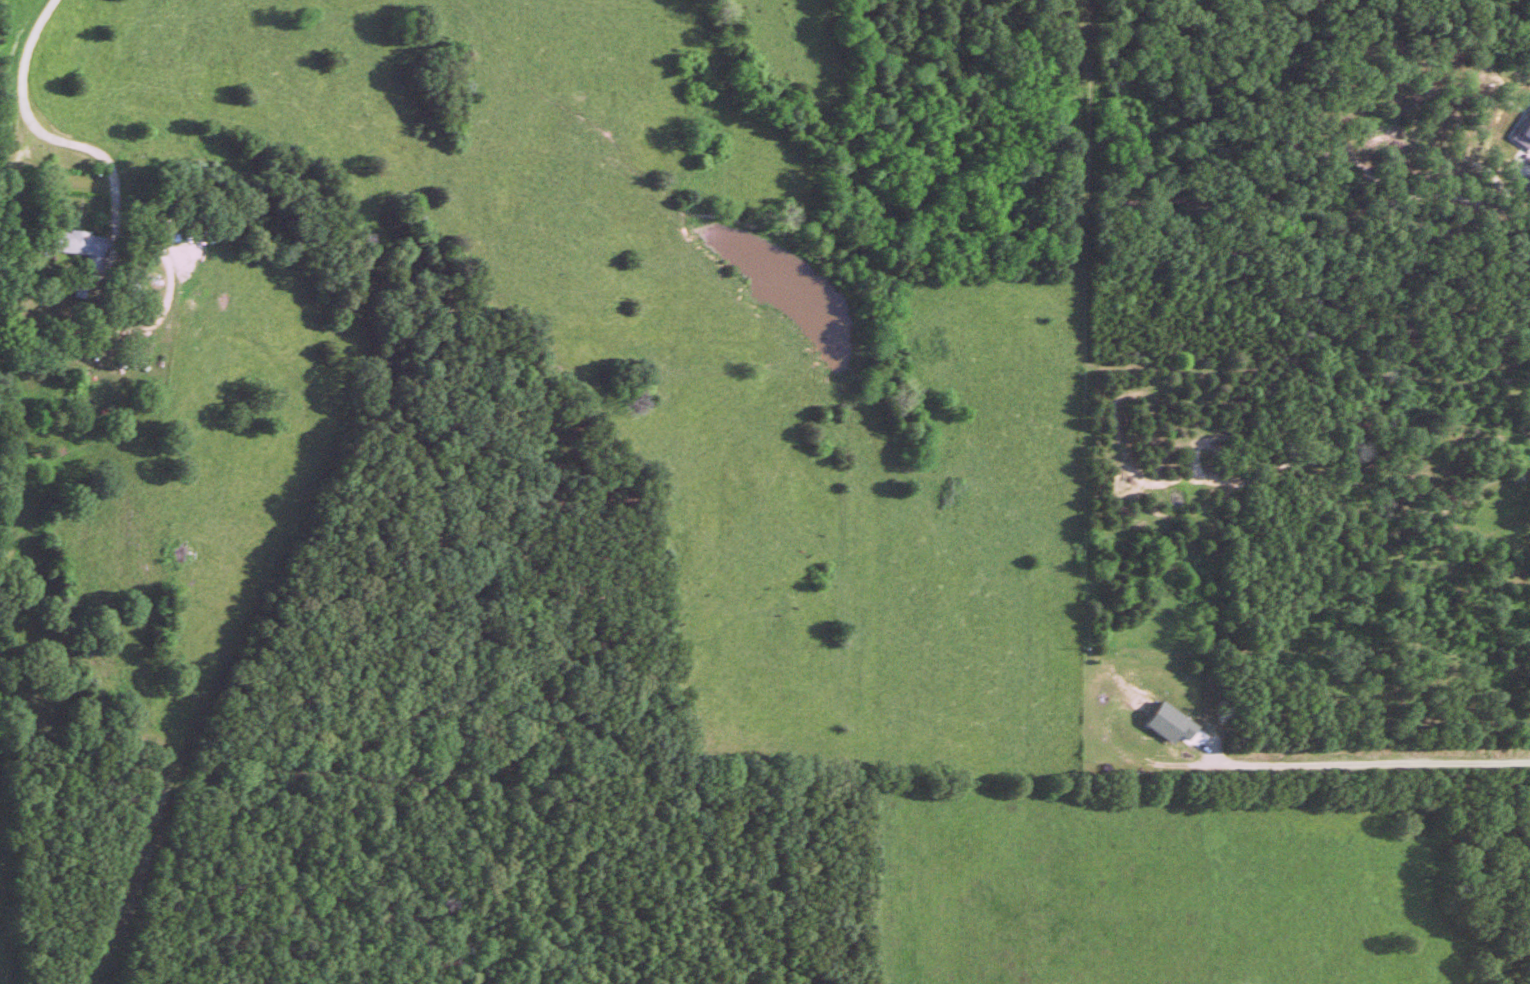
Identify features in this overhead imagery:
building: (1525, 133)
road: (46, 135)
building: (88, 246)
building: (1175, 721)

